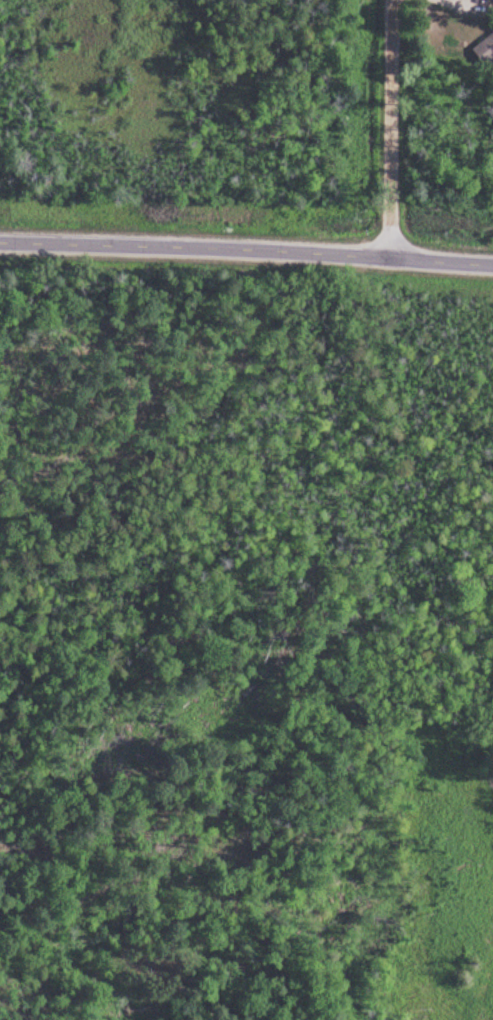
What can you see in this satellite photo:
building: (482, 50)
road: (393, 130)
road: (246, 256)
road: (71, 943)

